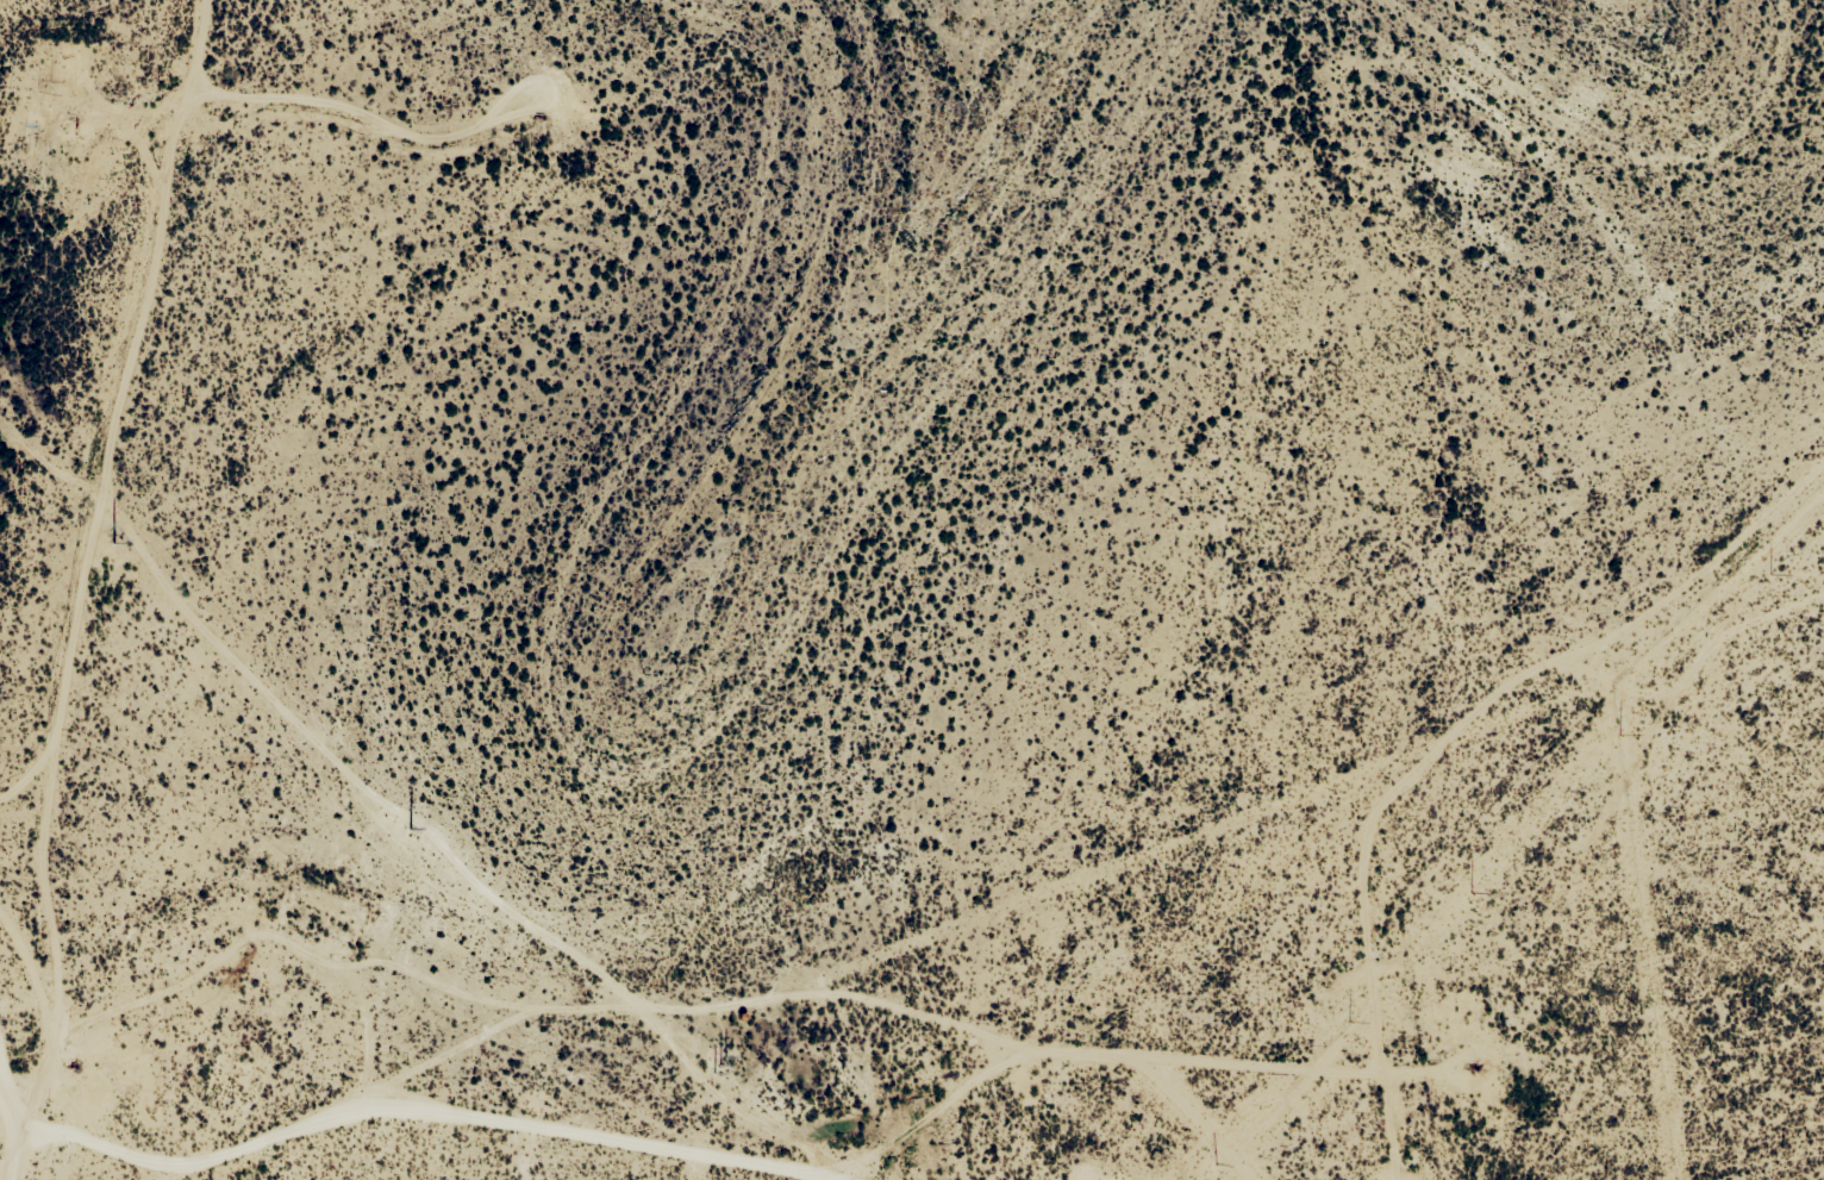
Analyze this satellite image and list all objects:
power tower: (114, 543)
road: (83, 575)
power tower: (1620, 731)
power tower: (411, 826)
power tower: (1349, 1014)
power tower: (720, 1062)
road: (14, 1069)
road: (786, 1159)
power tower: (1211, 1162)

